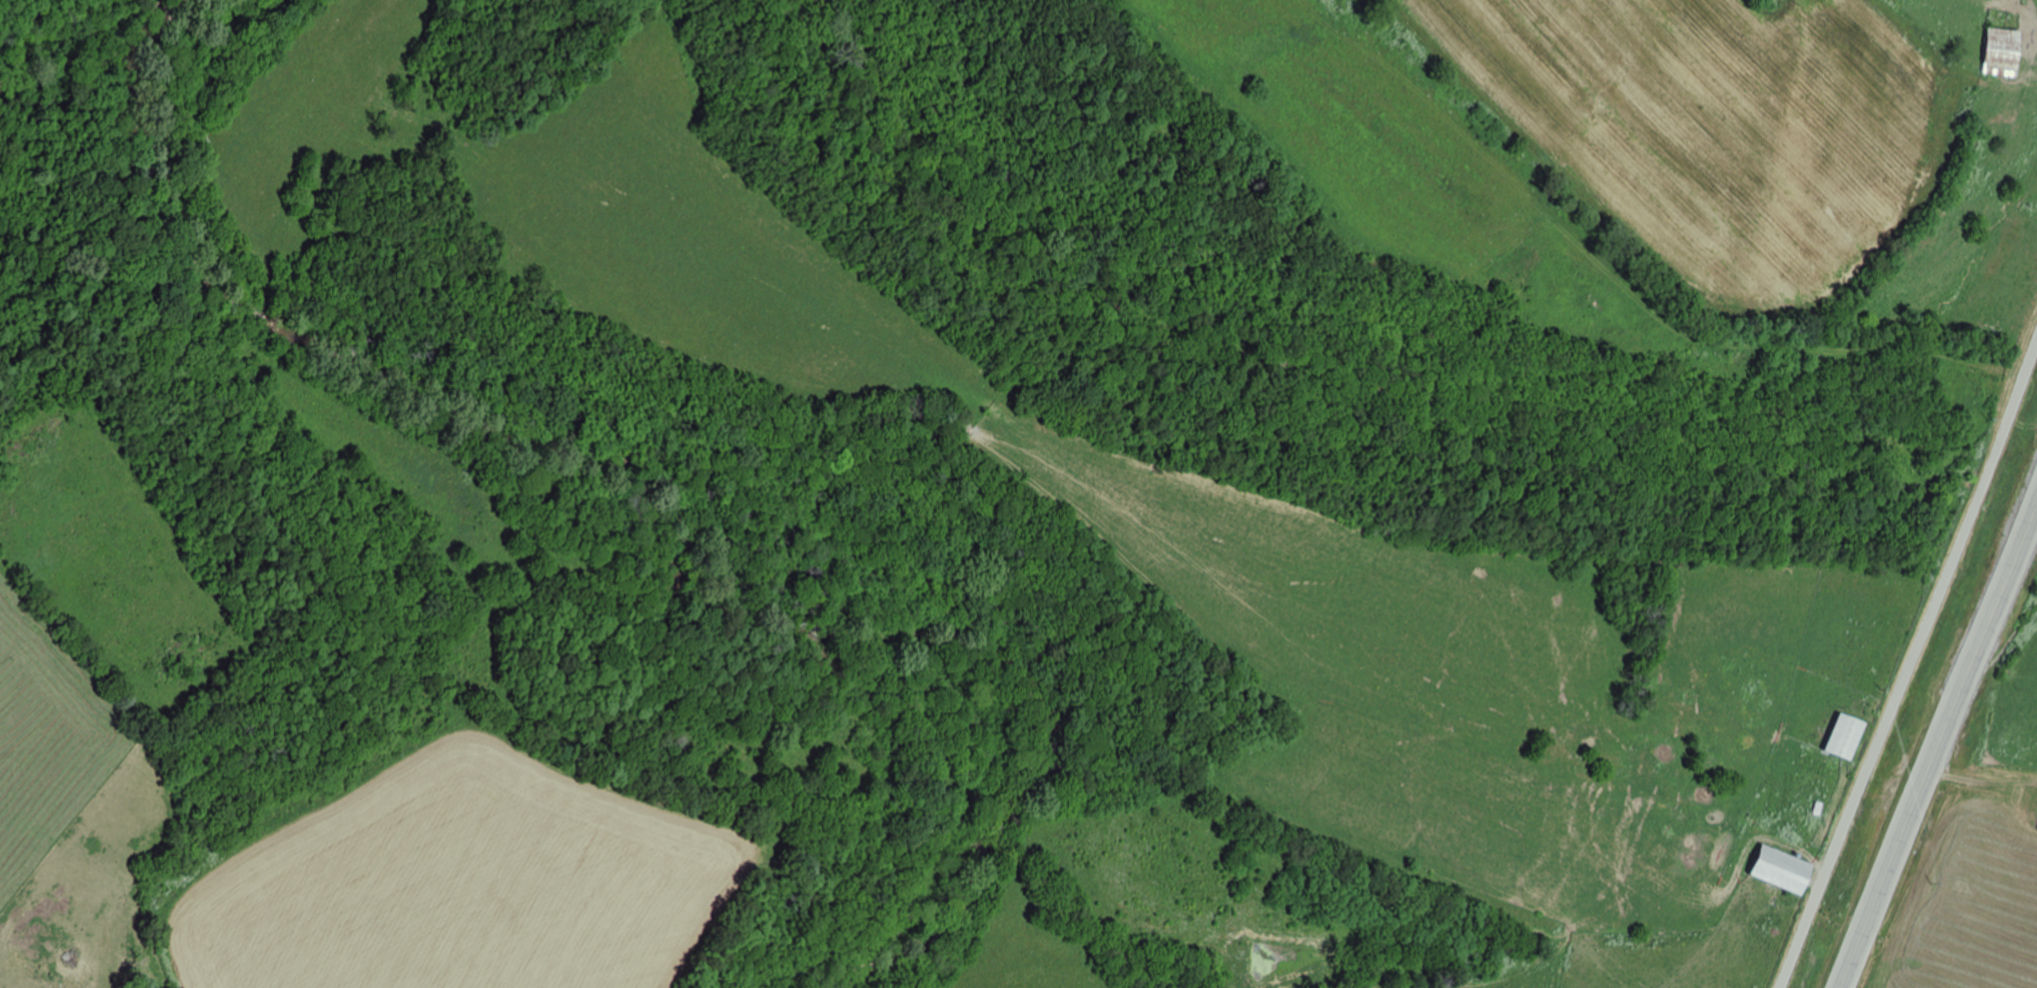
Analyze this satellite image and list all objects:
building: (2006, 52)
road: (1908, 666)
building: (1848, 735)
road: (1939, 741)
building: (2028, 802)
building: (1786, 870)

